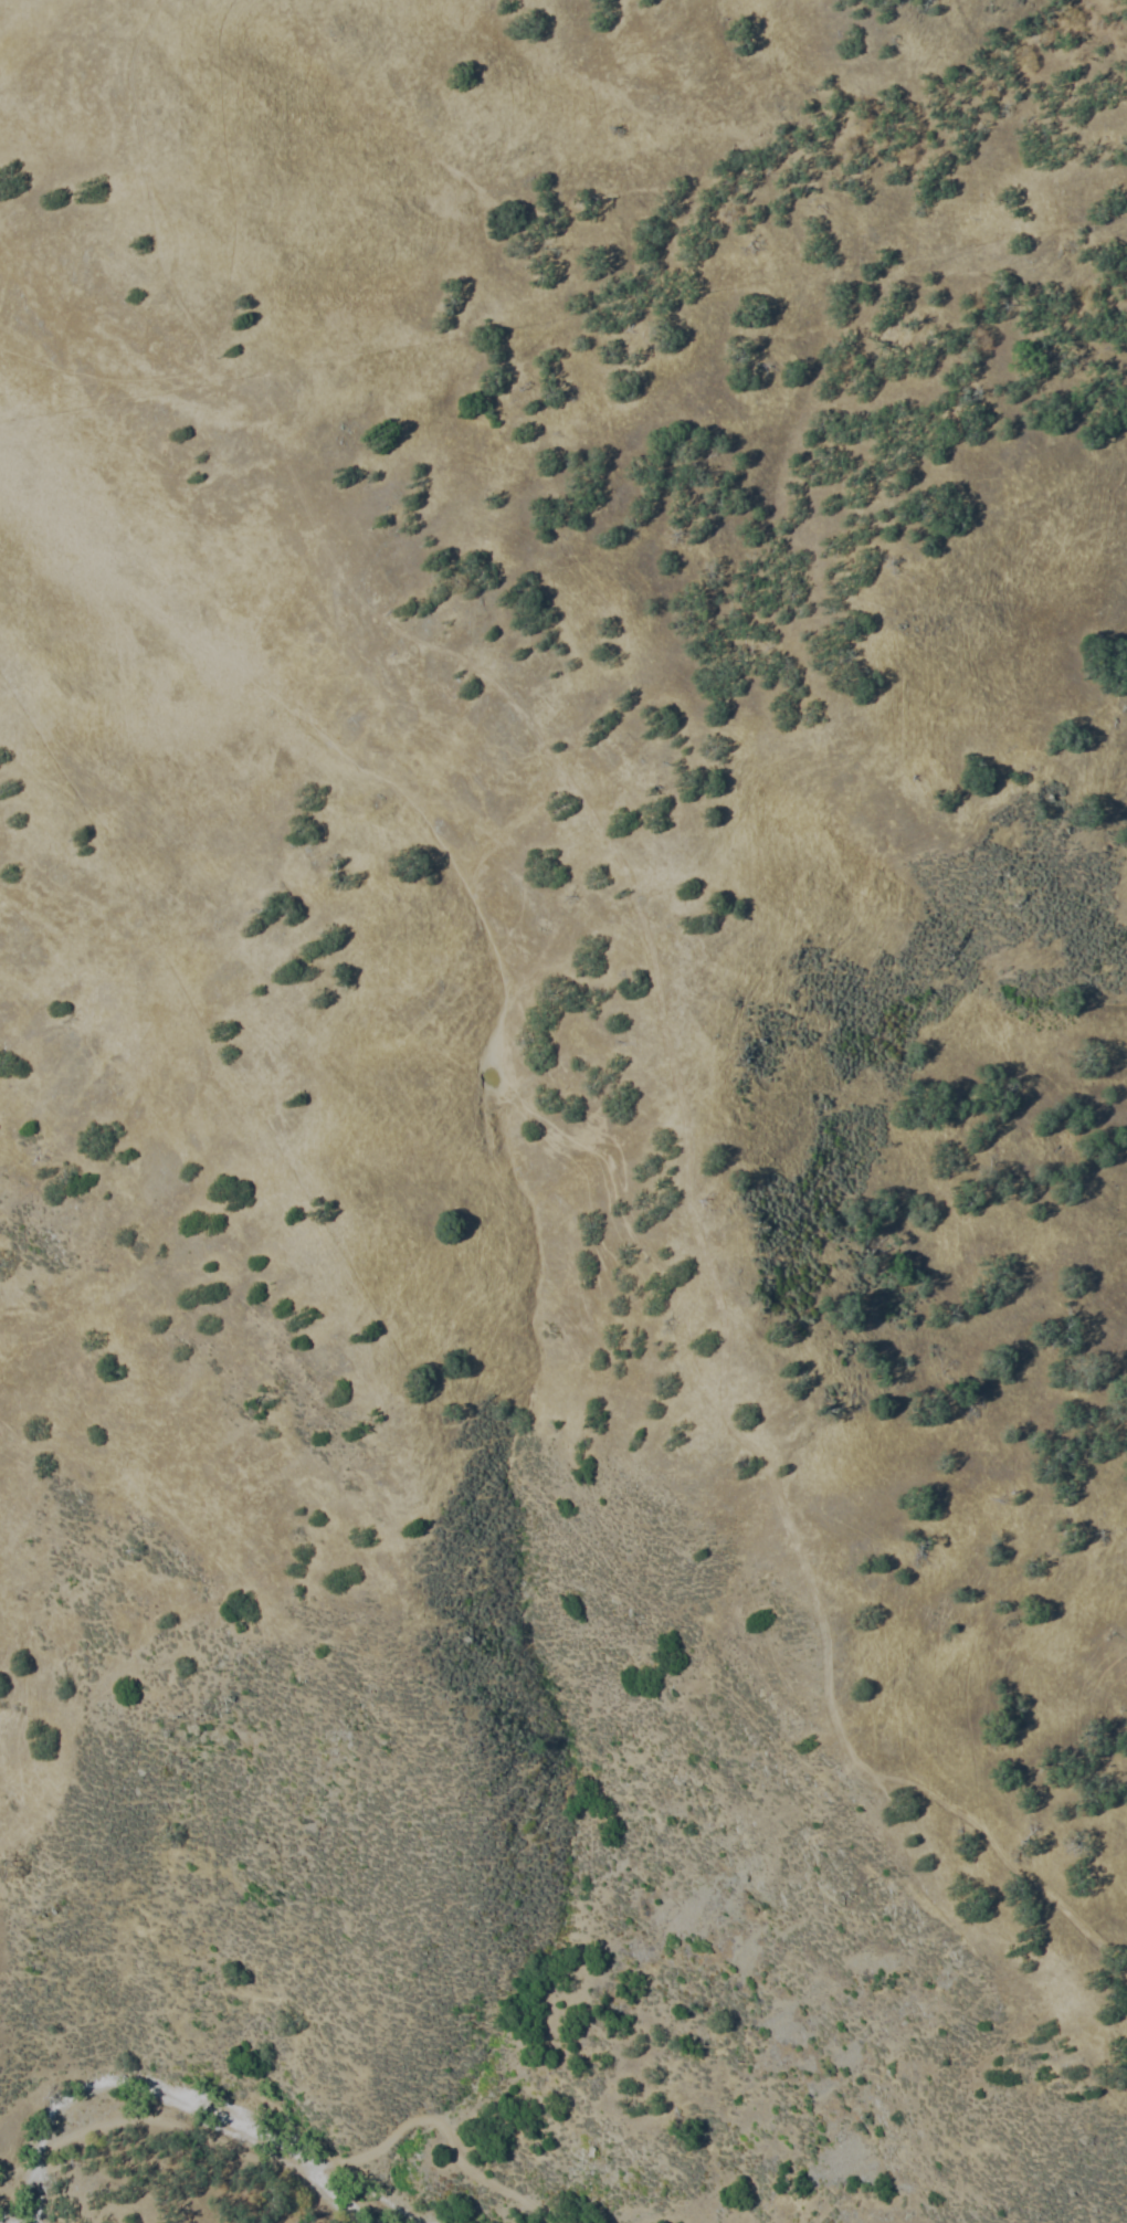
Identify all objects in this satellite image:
road: (154, 285)
road: (625, 893)
road: (825, 1688)
road: (213, 2137)
road: (483, 2177)

